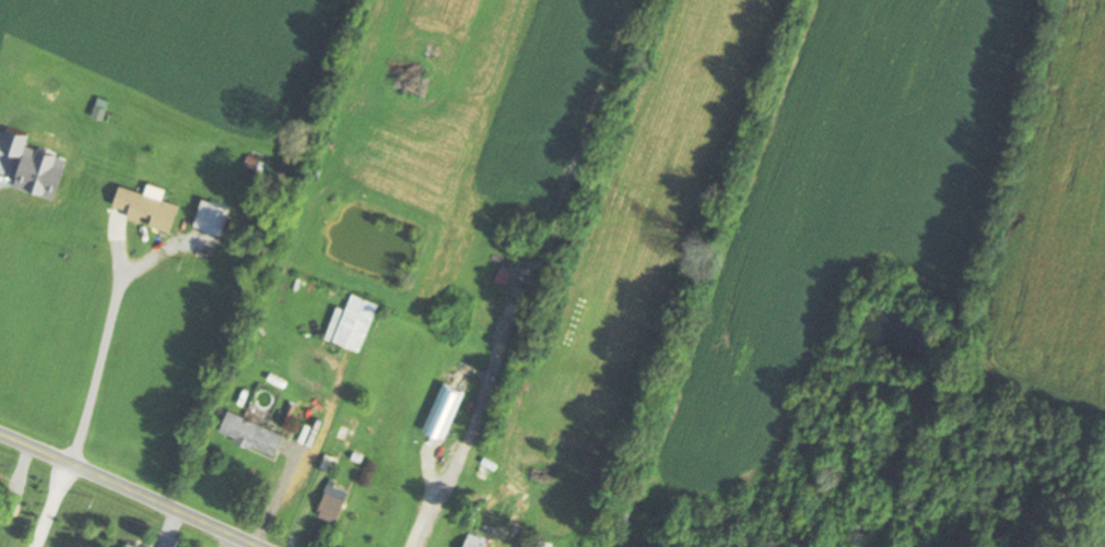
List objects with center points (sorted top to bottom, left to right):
building: (102, 107)
building: (58, 156)
building: (149, 205)
building: (356, 321)
building: (444, 408)
building: (348, 430)
building: (254, 432)
road: (134, 487)
building: (796, 492)
building: (334, 501)
building: (477, 540)
building: (122, 546)

